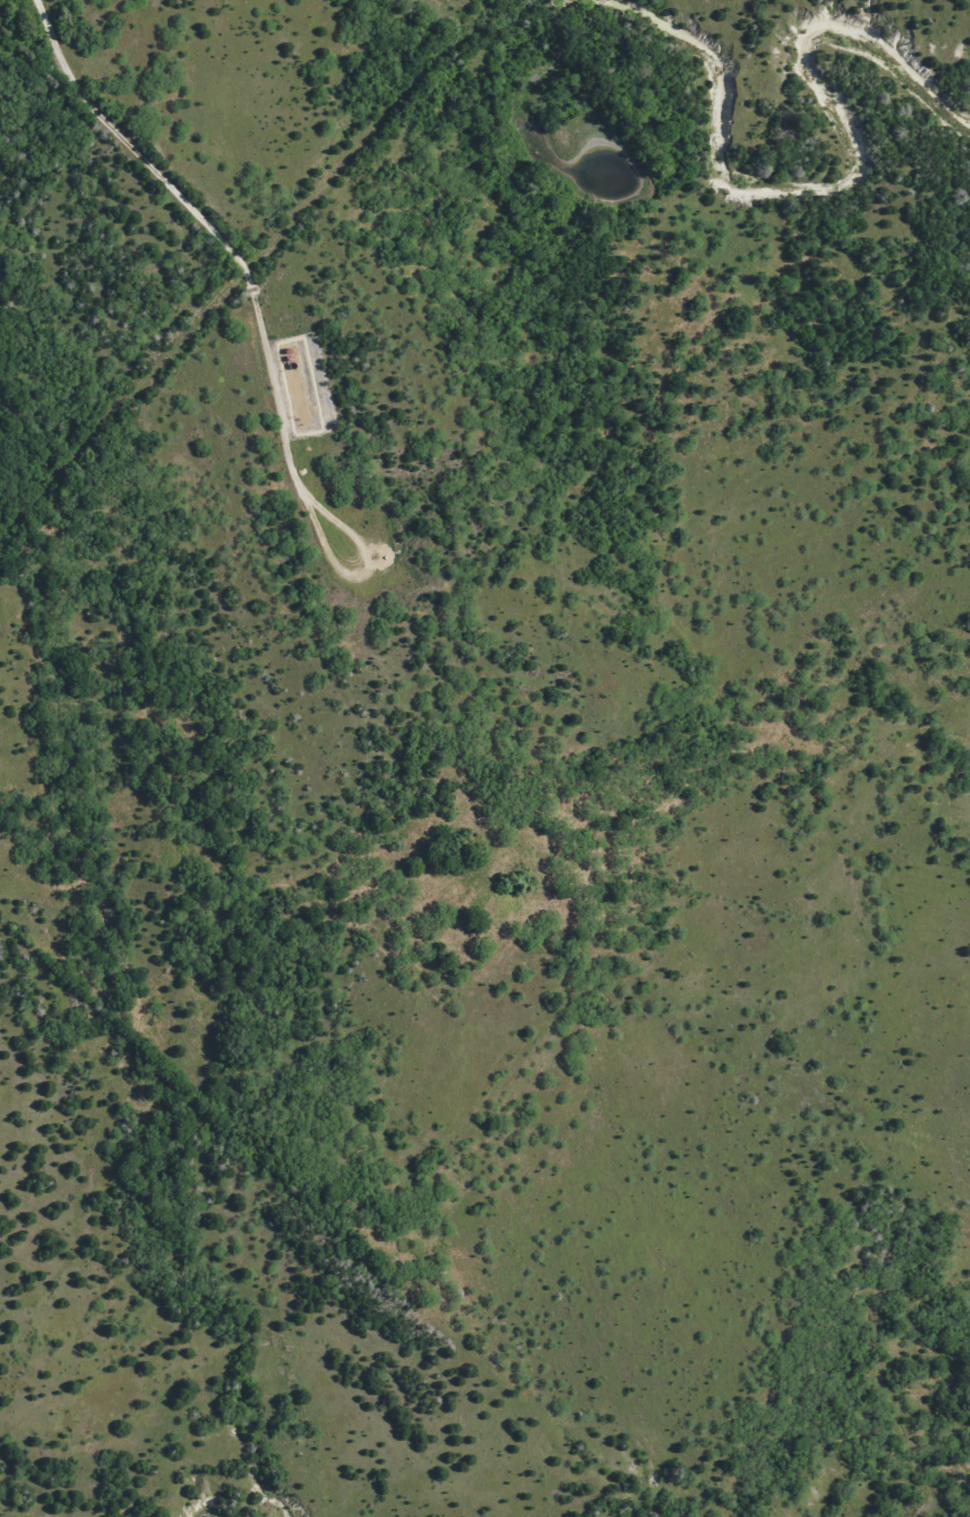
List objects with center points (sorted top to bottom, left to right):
road: (218, 242)

